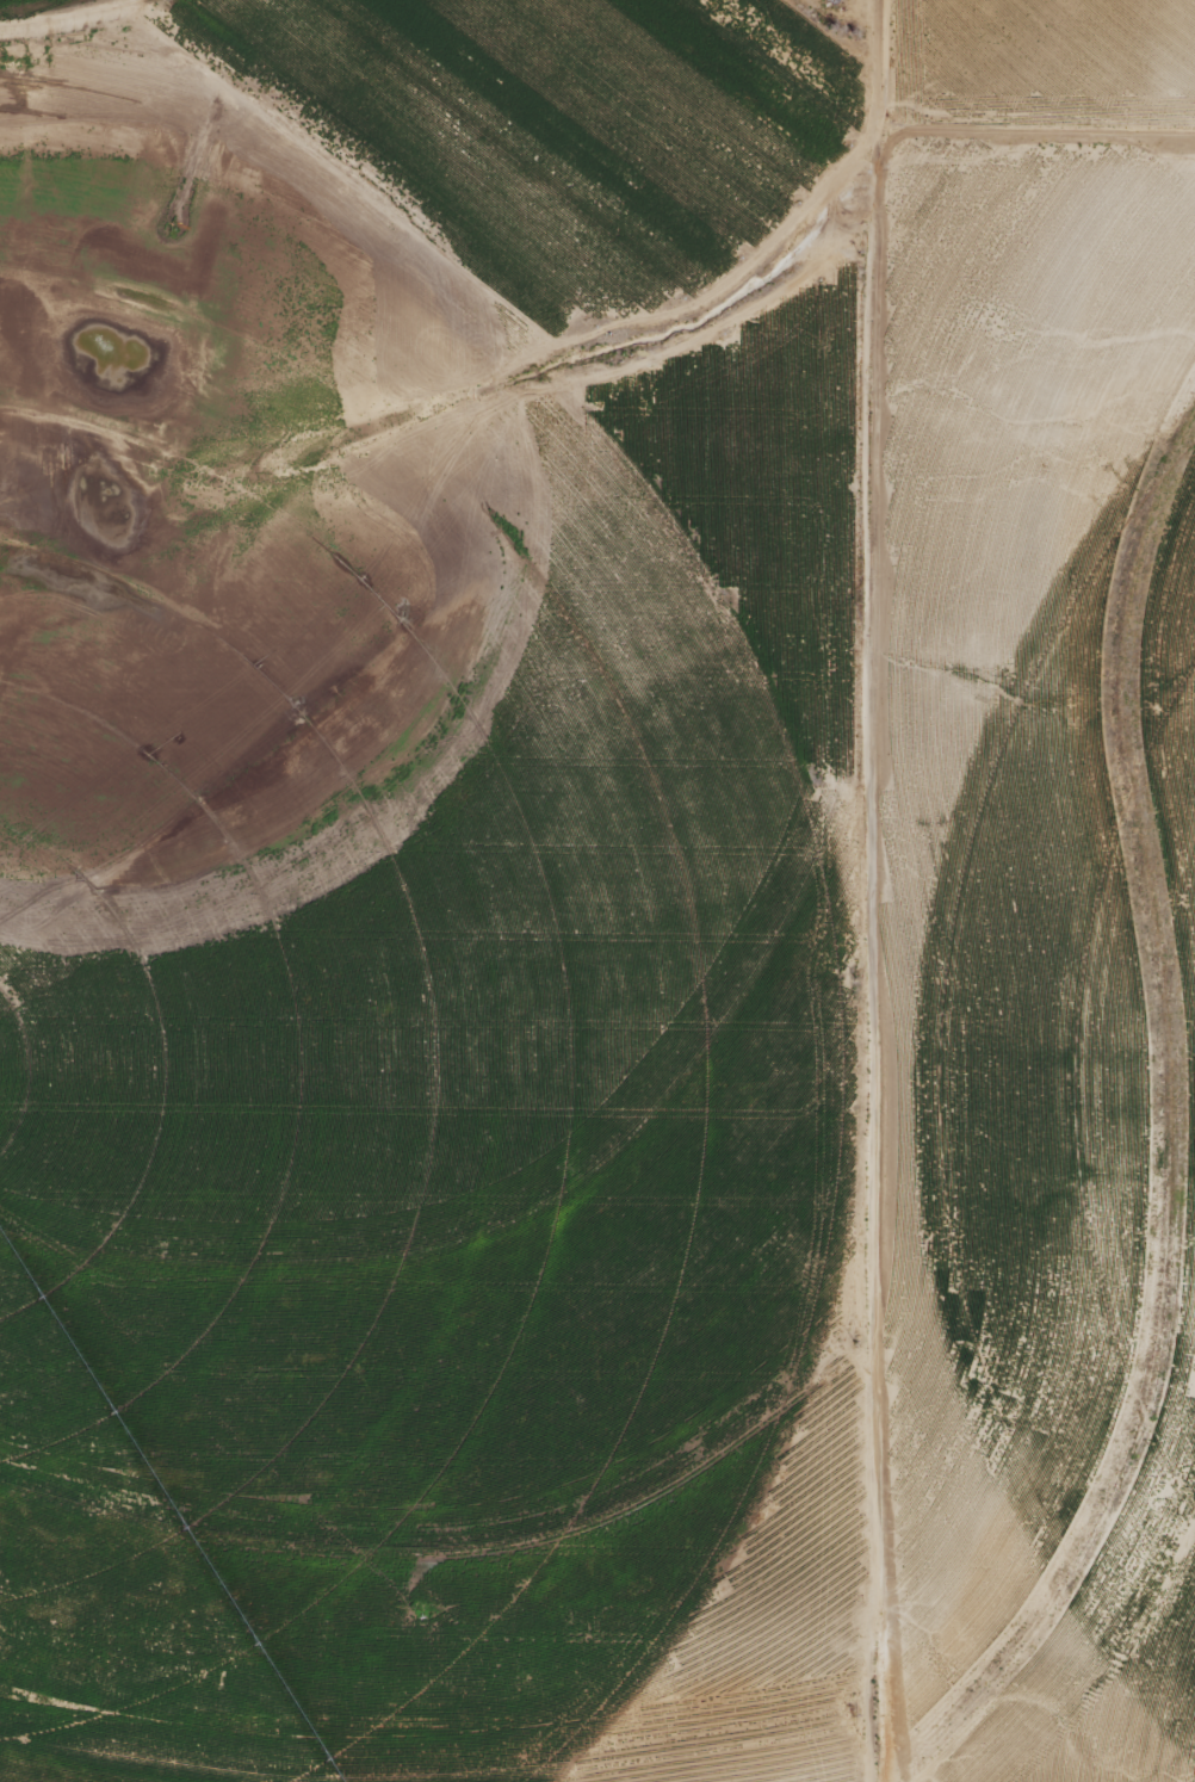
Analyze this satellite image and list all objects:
road: (857, 891)

